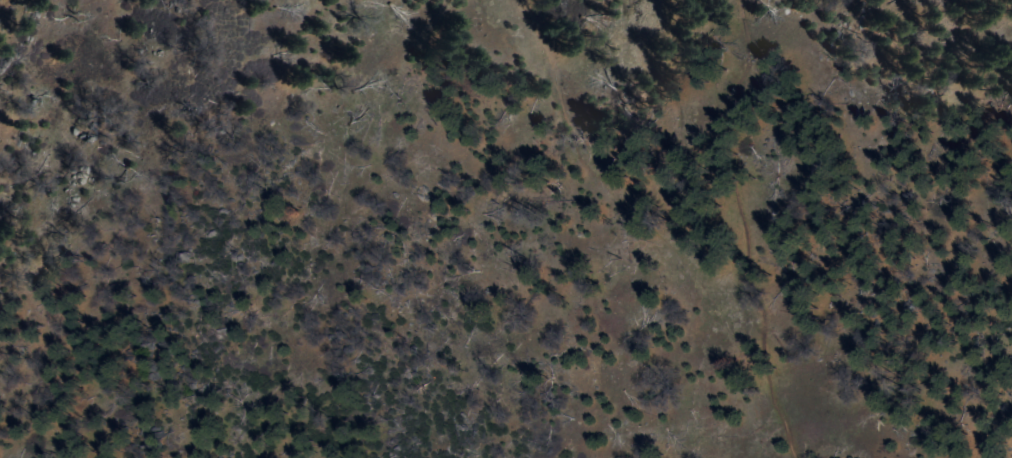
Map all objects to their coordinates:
road: (719, 231)

